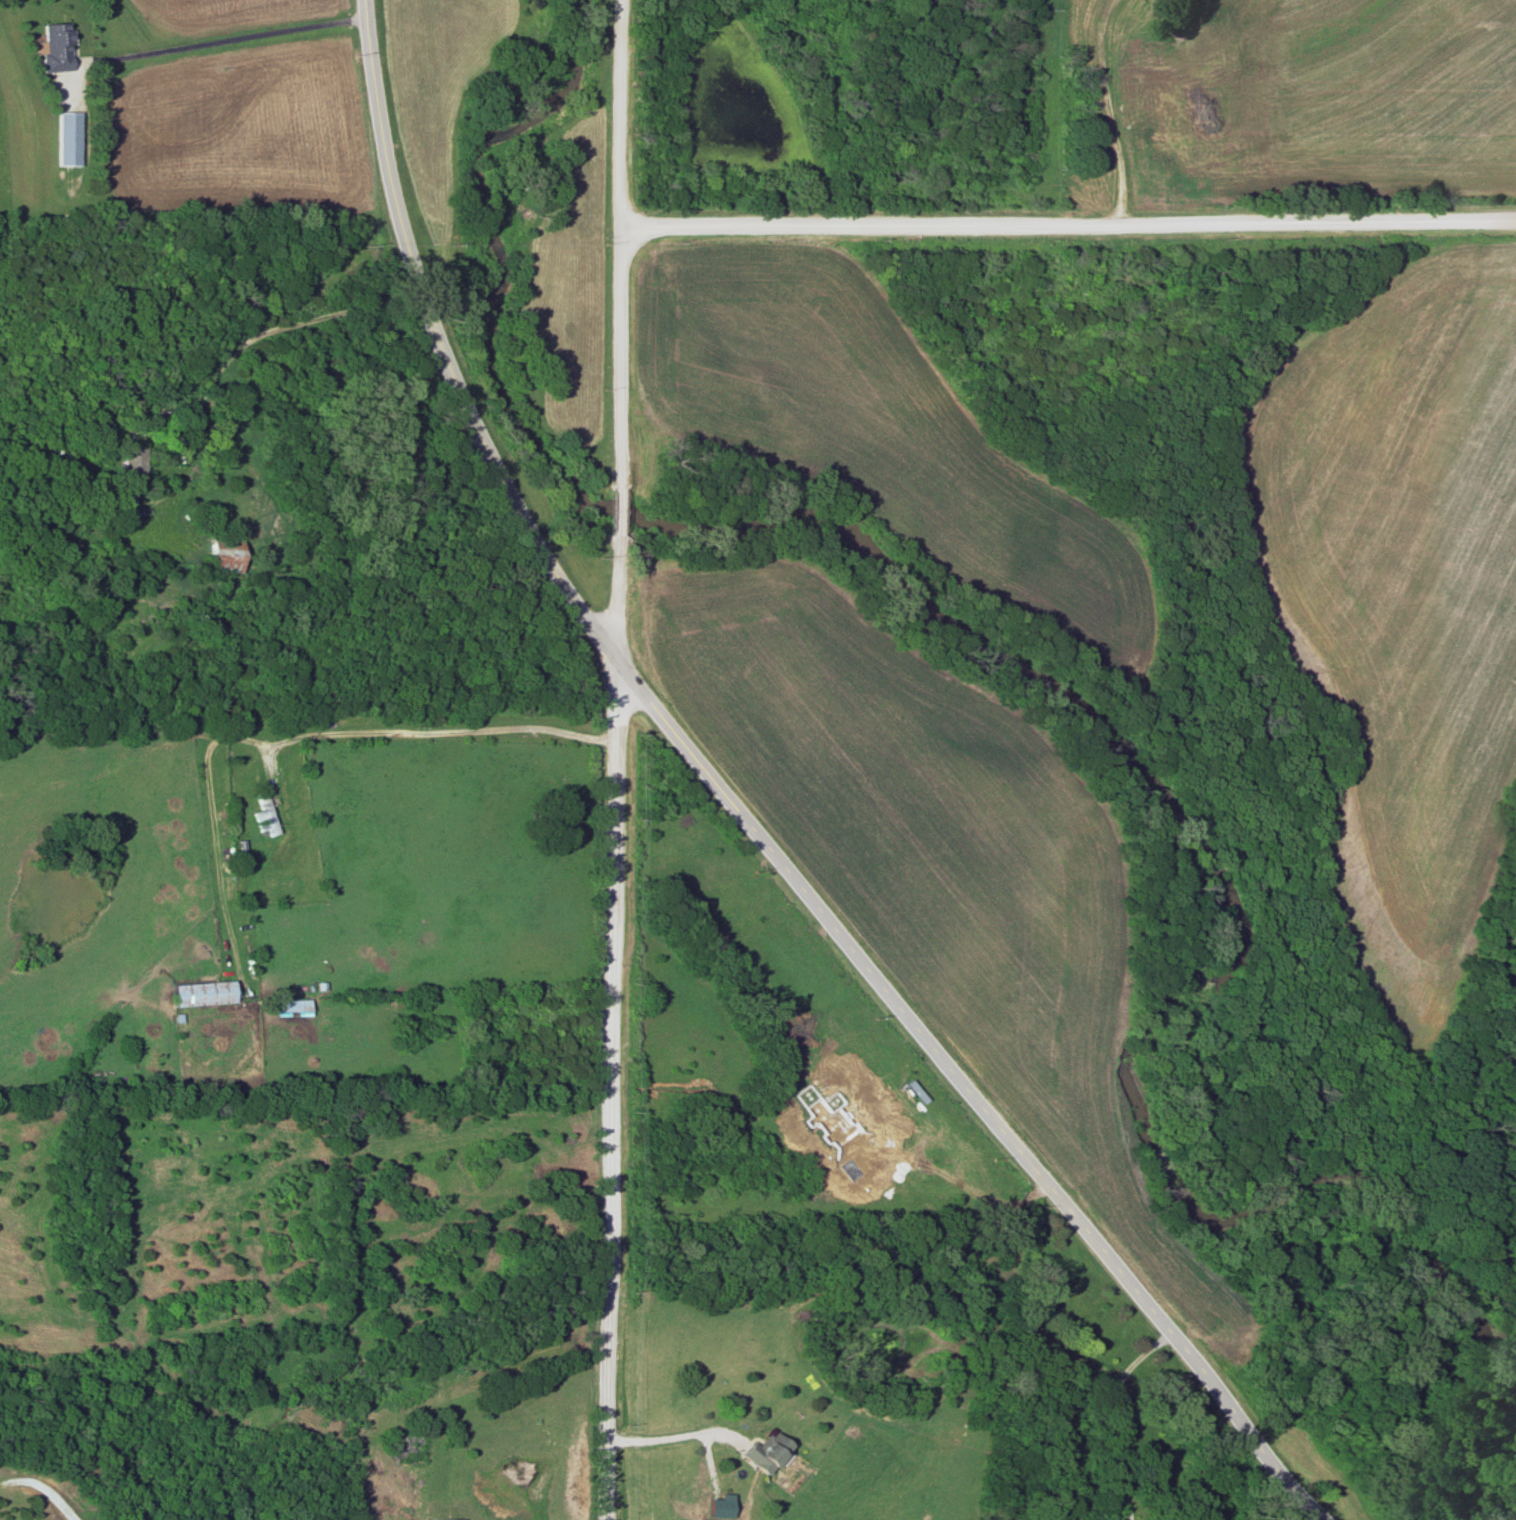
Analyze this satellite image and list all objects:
road: (222, 36)
building: (56, 47)
building: (1149, 78)
road: (614, 113)
building: (66, 139)
road: (1064, 223)
road: (233, 346)
road: (611, 356)
building: (130, 464)
road: (609, 512)
building: (217, 547)
road: (313, 731)
river: (1142, 783)
building: (262, 815)
road: (739, 818)
building: (205, 993)
building: (294, 1007)
road: (610, 1028)
road: (1114, 1411)
road: (669, 1434)
building: (762, 1452)

